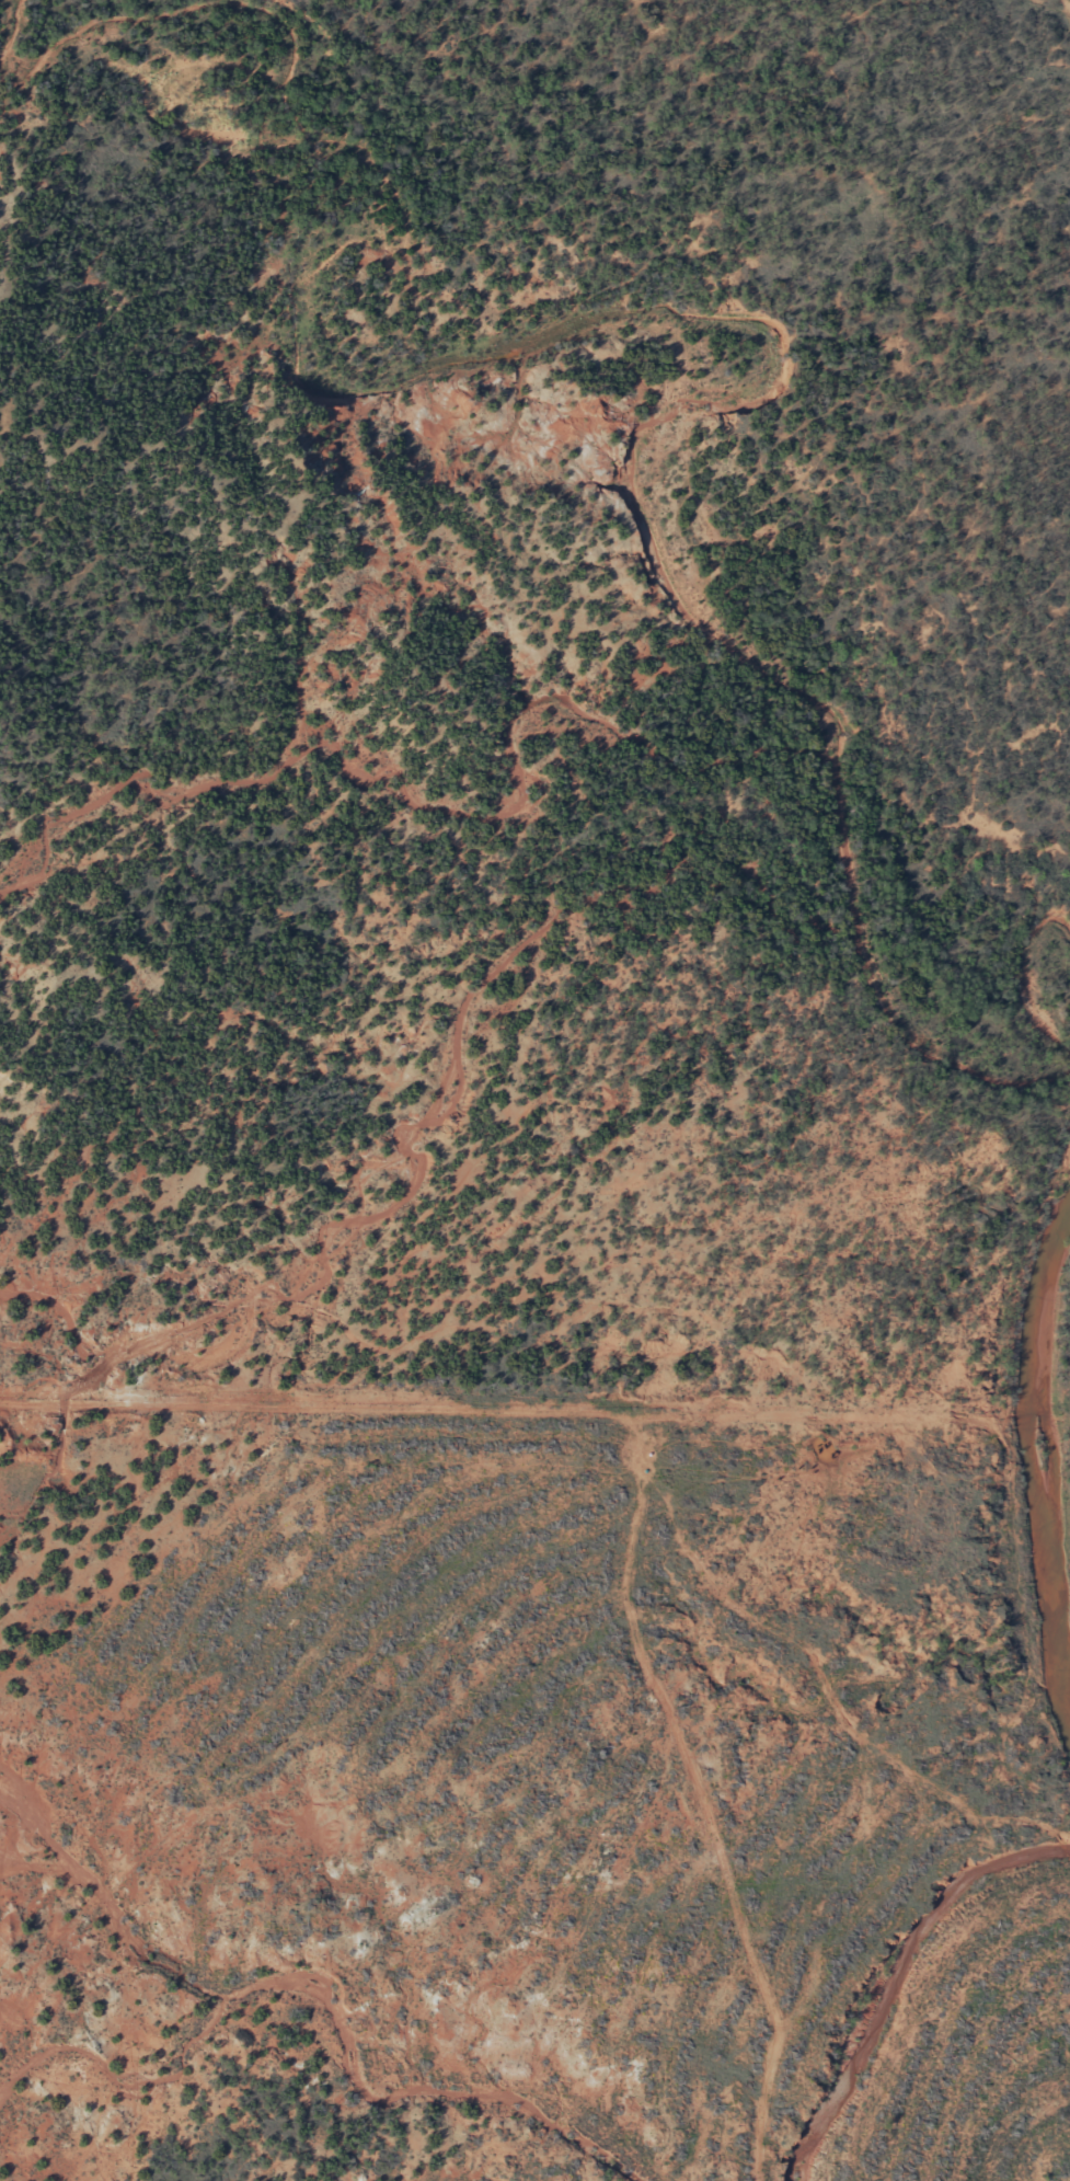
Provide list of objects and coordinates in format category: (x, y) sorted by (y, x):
road: (996, 756)
river: (1046, 1462)

